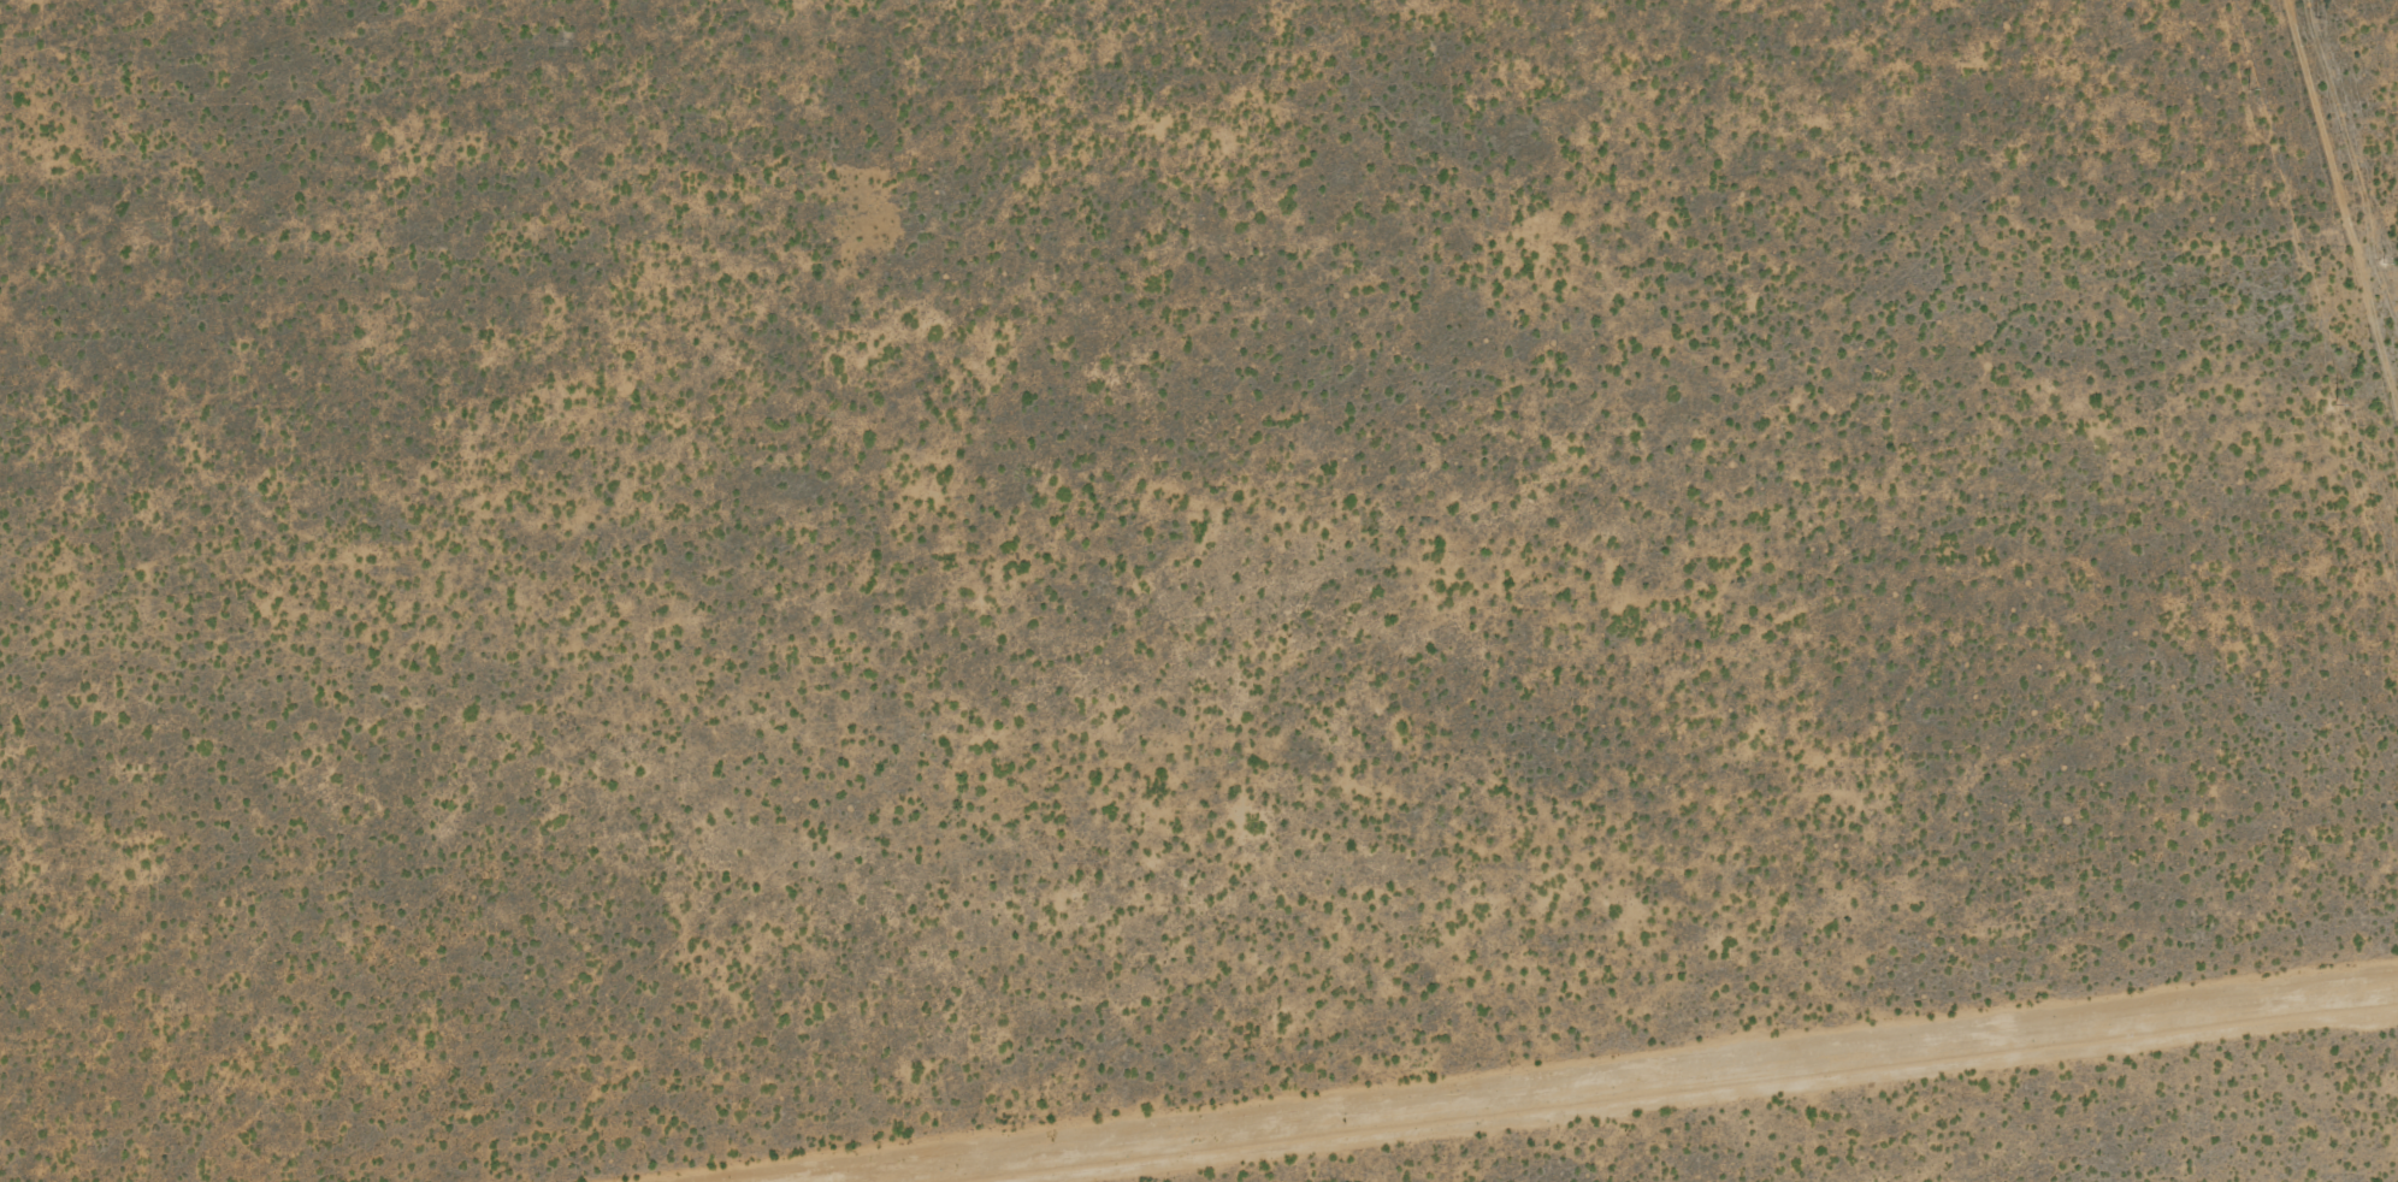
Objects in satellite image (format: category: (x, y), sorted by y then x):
power tower: (2243, 90)
power tower: (2332, 407)

